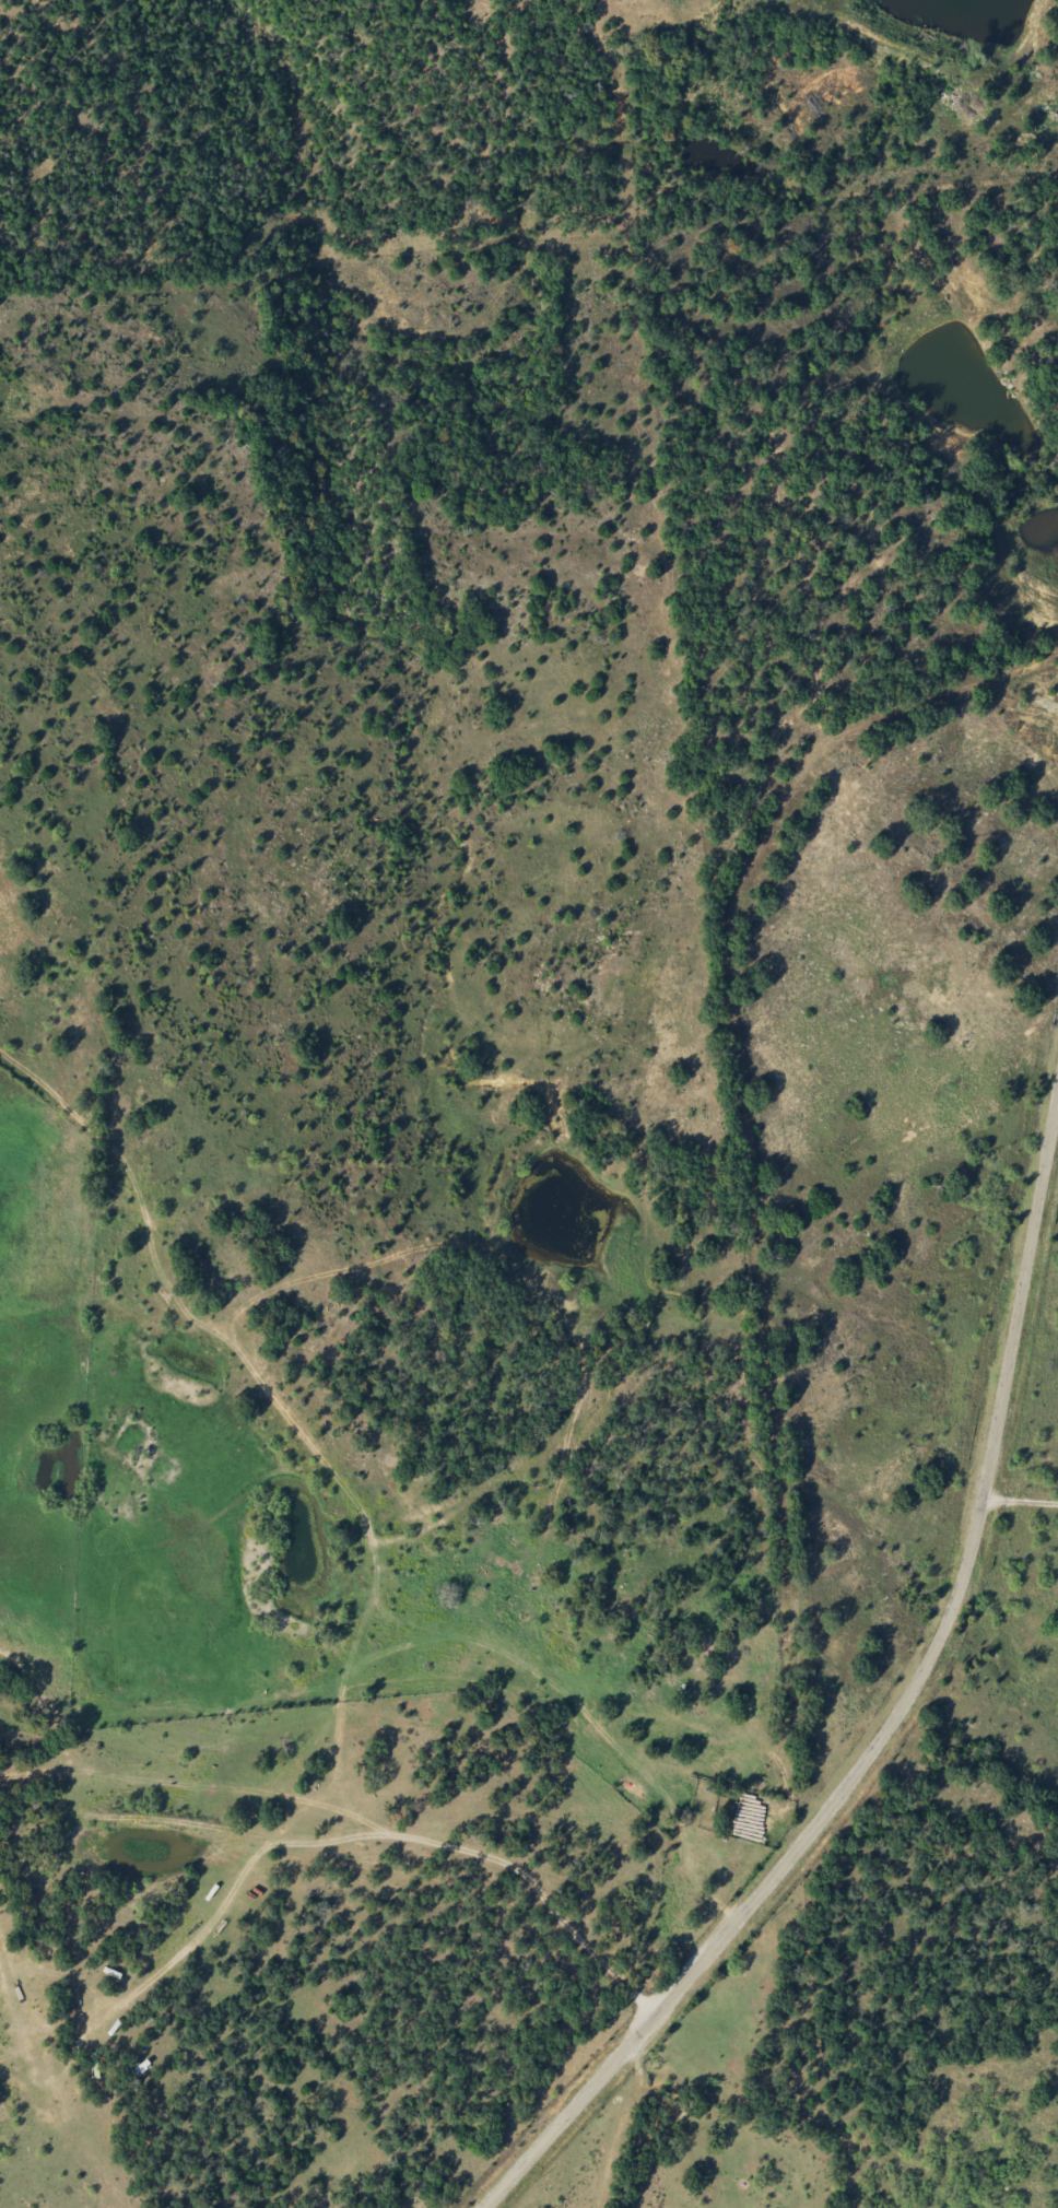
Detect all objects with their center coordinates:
road: (1020, 1502)
road: (897, 1712)
road: (352, 1835)
road: (9, 1975)

